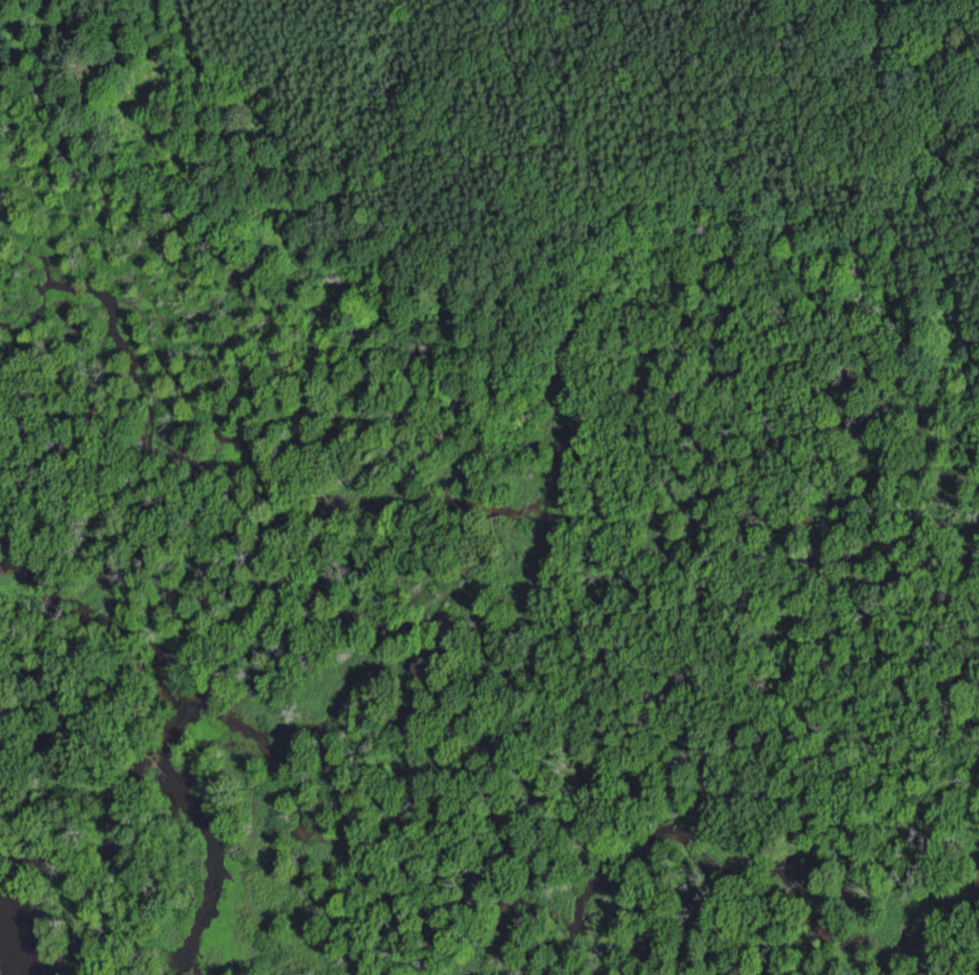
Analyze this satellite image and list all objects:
river: (12, 954)

